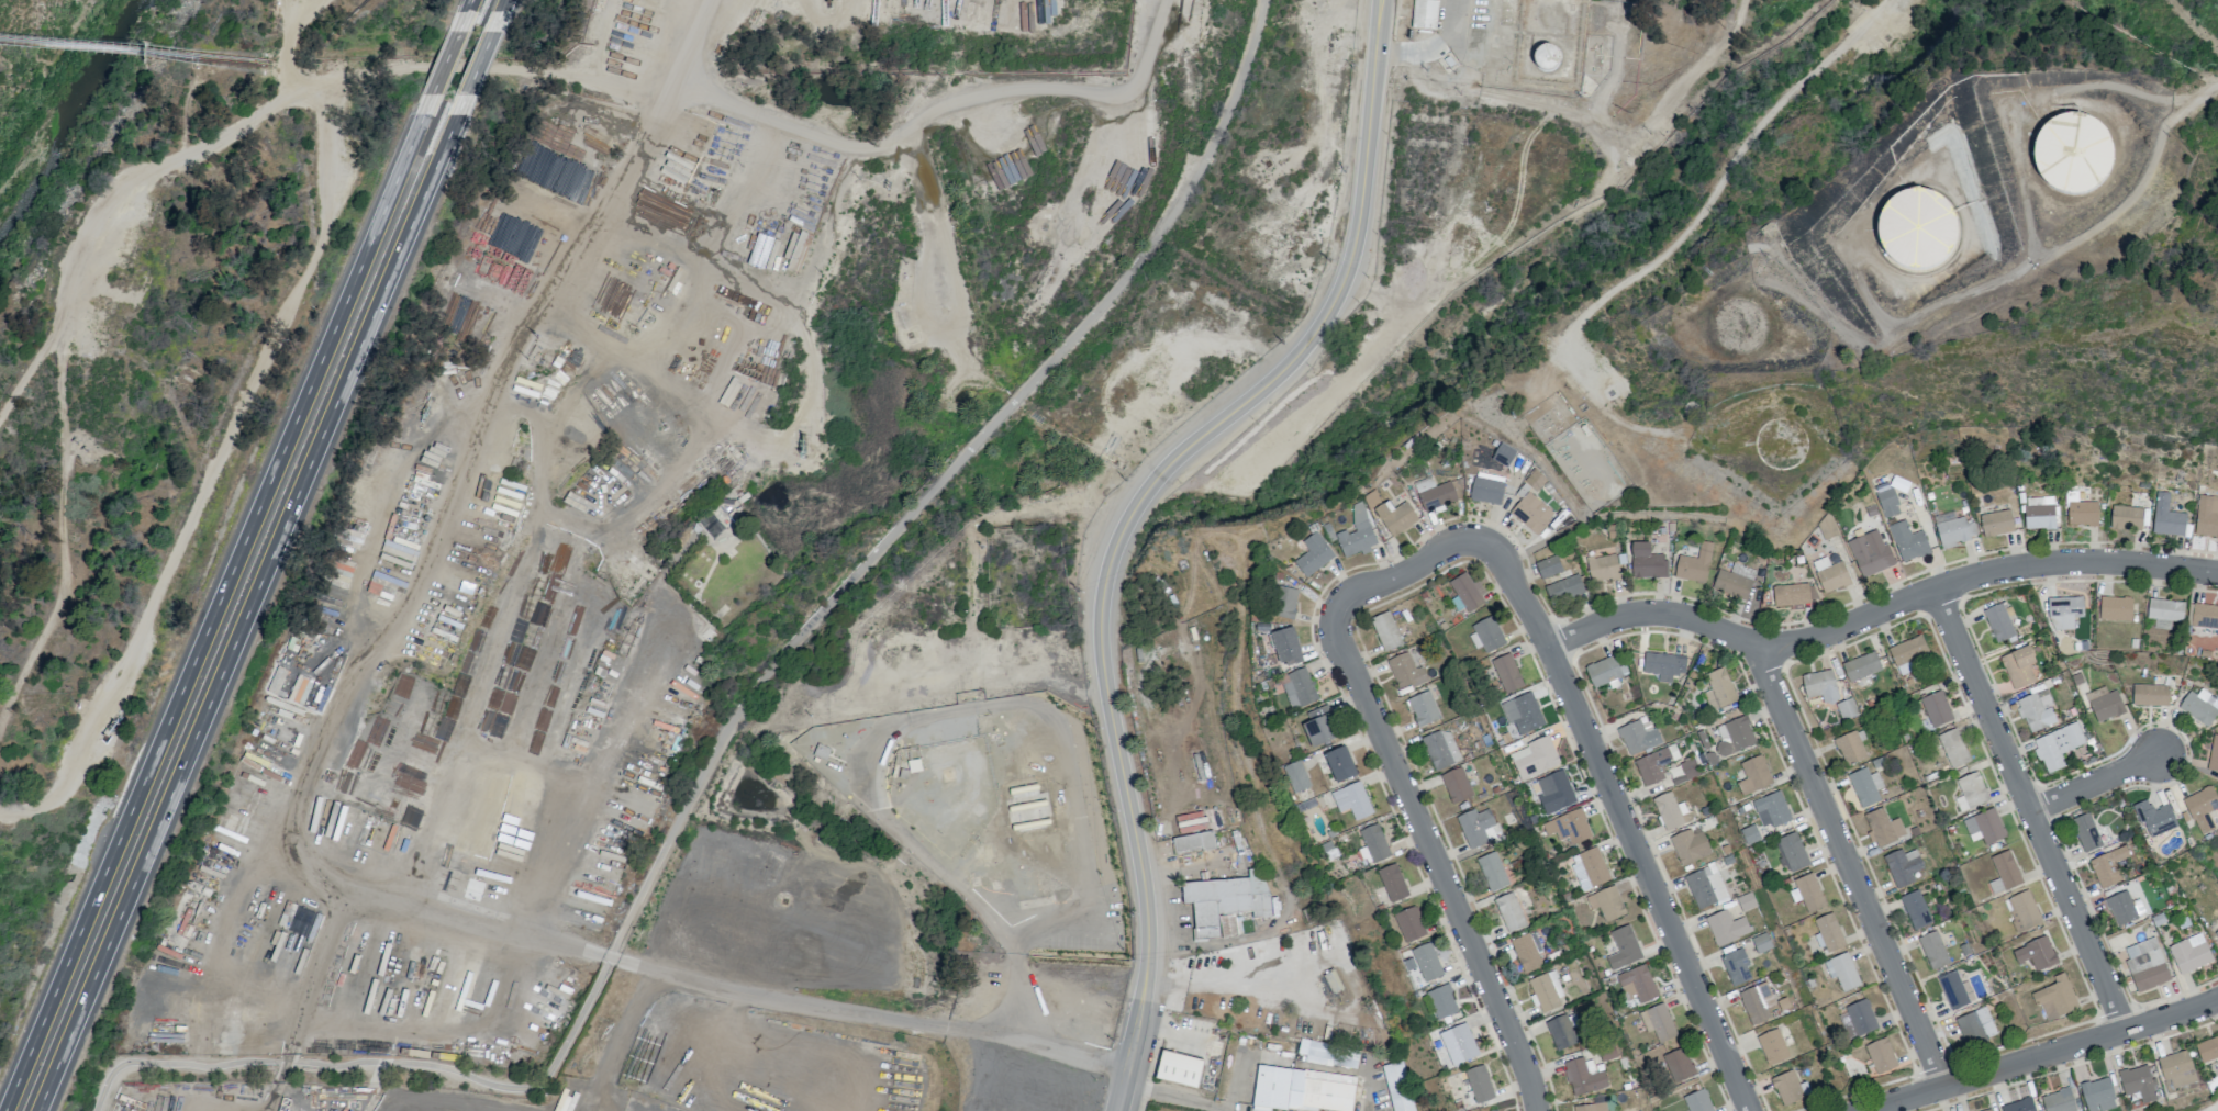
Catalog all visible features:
road: (1381, 2)
building: (1424, 14)
road: (465, 15)
road: (499, 15)
river: (52, 63)
road: (444, 64)
road: (479, 64)
road: (497, 66)
road: (940, 105)
building: (2072, 154)
building: (1916, 227)
road: (1535, 377)
building: (1503, 454)
road: (1168, 461)
building: (1535, 480)
building: (1486, 489)
building: (1434, 493)
building: (1887, 503)
building: (1531, 513)
building: (2039, 513)
building: (1391, 514)
building: (2082, 514)
building: (2206, 516)
building: (2166, 517)
building: (2129, 518)
building: (2002, 524)
building: (1953, 529)
building: (1356, 534)
building: (1908, 541)
building: (1870, 553)
building: (1313, 554)
building: (1647, 562)
building: (1694, 564)
building: (1548, 566)
building: (1603, 568)
road: (1411, 572)
building: (1830, 574)
road: (424, 575)
building: (1735, 581)
building: (1563, 590)
building: (1467, 592)
building: (1794, 594)
building: (1283, 603)
road: (219, 604)
road: (255, 604)
building: (2115, 608)
building: (2064, 611)
road: (1881, 613)
building: (2164, 613)
building: (2203, 616)
building: (1998, 622)
building: (1385, 631)
building: (1485, 635)
building: (1285, 647)
building: (1915, 651)
building: (1664, 665)
building: (1868, 666)
building: (2018, 667)
building: (1406, 669)
building: (1903, 669)
building: (1604, 671)
building: (1506, 673)
building: (1820, 685)
building: (1299, 688)
building: (1718, 689)
building: (2150, 695)
building: (2104, 704)
building: (2200, 706)
building: (1423, 708)
building: (1846, 708)
building: (1941, 710)
building: (2037, 710)
building: (1523, 714)
road: (735, 715)
building: (1319, 727)
building: (1746, 734)
building: (1638, 737)
building: (2058, 745)
building: (1440, 749)
building: (1854, 751)
building: (1959, 751)
building: (2213, 754)
building: (1534, 757)
building: (1339, 764)
building: (1654, 764)
building: (1686, 770)
building: (1761, 775)
building: (1295, 776)
road: (2098, 784)
building: (1456, 785)
building: (1865, 786)
building: (1979, 790)
building: (1554, 793)
building: (1351, 800)
building: (1779, 808)
road: (2032, 809)
building: (1670, 811)
building: (2154, 817)
building: (1475, 827)
building: (1569, 827)
building: (1994, 827)
building: (1885, 828)
building: (1749, 834)
building: (2092, 835)
building: (1193, 842)
building: (1374, 843)
road: (1638, 846)
building: (1688, 846)
building: (1797, 853)
road: (1851, 865)
building: (2108, 866)
building: (1589, 868)
building: (1903, 868)
building: (2011, 869)
building: (1492, 871)
building: (1392, 883)
road: (1452, 890)
building: (1704, 890)
building: (1816, 893)
building: (1746, 901)
building: (1226, 902)
building: (1606, 902)
building: (2121, 908)
building: (1921, 909)
road: (436, 910)
building: (2031, 911)
building: (1509, 912)
building: (1409, 924)
building: (1726, 927)
building: (1835, 932)
building: (2216, 933)
building: (743, 935)
building: (1761, 942)
building: (1621, 947)
building: (1938, 951)
road: (218, 952)
building: (1525, 953)
building: (2046, 953)
building: (2189, 953)
building: (1426, 962)
building: (2145, 964)
building: (1736, 967)
building: (1849, 974)
road: (684, 976)
building: (1331, 981)
building: (1636, 984)
building: (1957, 990)
building: (1546, 992)
building: (2061, 998)
building: (1441, 1001)
building: (1757, 1002)
building: (1864, 1018)
building: (1658, 1022)
building: (1848, 1029)
building: (1975, 1029)
building: (1560, 1032)
road: (1136, 1042)
building: (1458, 1044)
building: (1775, 1047)
building: (2207, 1050)
building: (1328, 1054)
road: (2046, 1055)
building: (1885, 1056)
building: (1178, 1068)
building: (2176, 1068)
building: (1583, 1076)
building: (2138, 1082)
building: (1479, 1084)
building: (1398, 1086)
building: (1791, 1088)
building: (1302, 1089)
road: (1170, 1095)
building: (2097, 1095)
building: (1699, 1101)
building: (2062, 1101)
building: (1591, 1107)
building: (2024, 1107)
building: (1987, 1110)
building: (1993, 1110)

